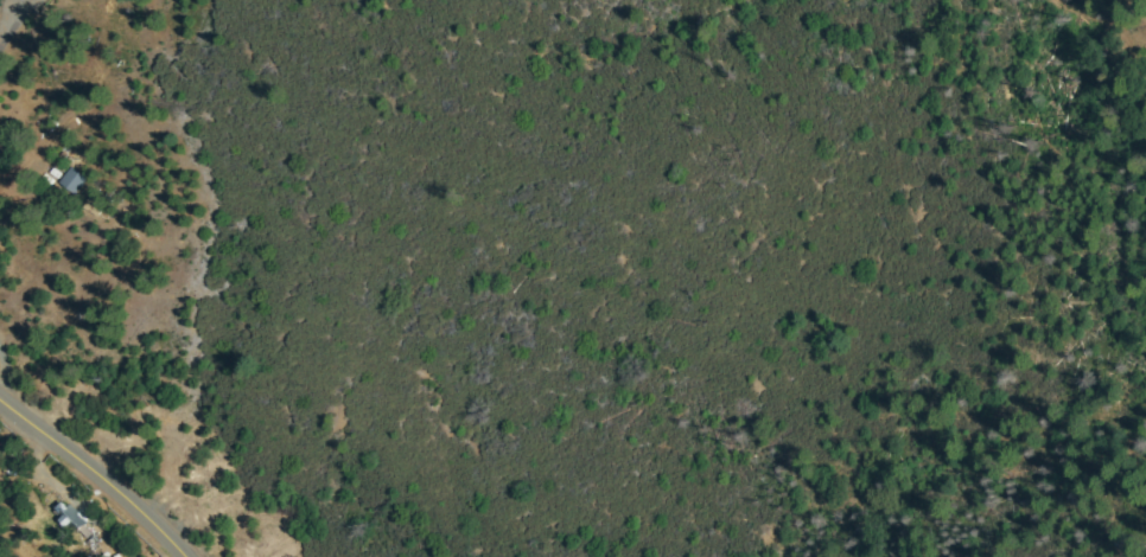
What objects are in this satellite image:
building: (75, 181)
building: (96, 205)
road: (89, 480)
building: (76, 511)
building: (70, 520)
building: (95, 526)
building: (104, 537)

